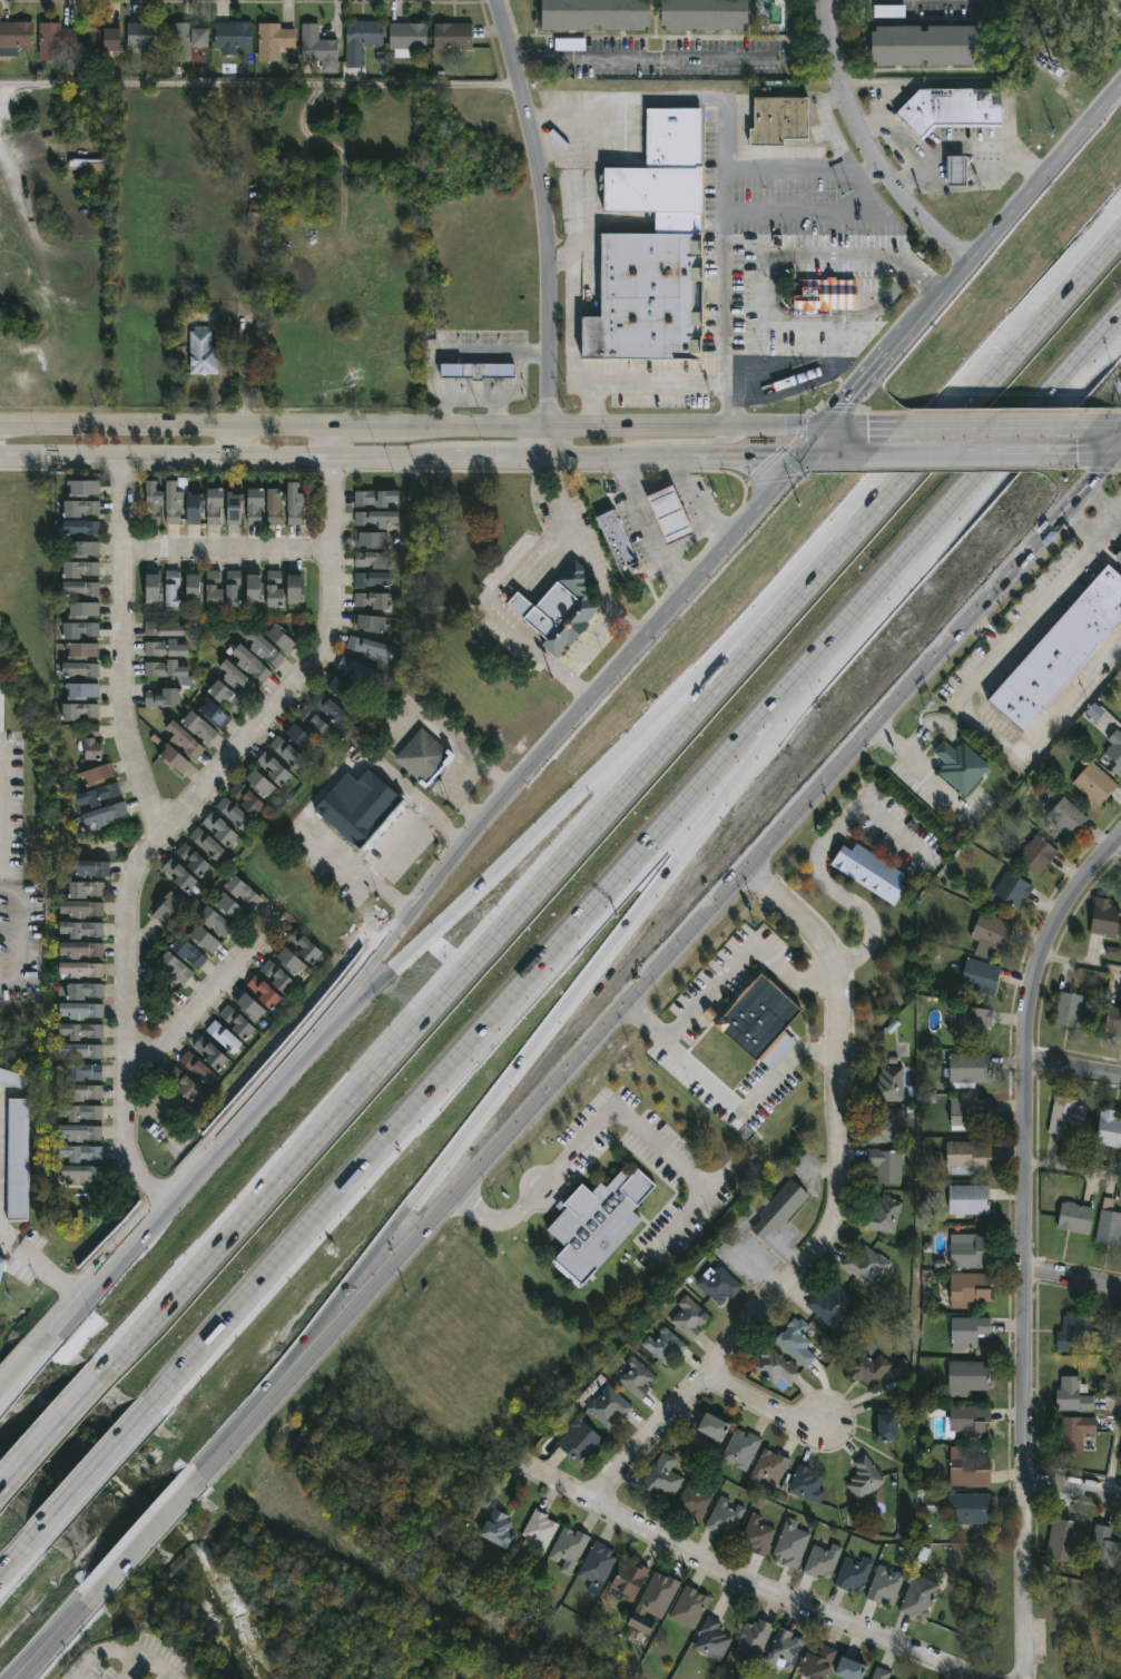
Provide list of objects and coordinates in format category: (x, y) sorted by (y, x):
building: (594, 14)
building: (704, 14)
building: (144, 35)
building: (14, 37)
building: (232, 37)
building: (406, 37)
building: (451, 37)
building: (53, 38)
building: (101, 38)
building: (360, 39)
building: (185, 40)
building: (273, 40)
building: (925, 45)
building: (315, 47)
road: (673, 58)
road: (259, 84)
road: (589, 97)
building: (954, 109)
building: (779, 119)
road: (828, 120)
road: (549, 131)
road: (891, 135)
road: (966, 145)
road: (866, 149)
road: (800, 165)
building: (956, 171)
building: (662, 174)
road: (829, 210)
building: (252, 217)
road: (1006, 224)
road: (545, 225)
road: (798, 254)
road: (559, 257)
road: (1090, 268)
building: (647, 296)
building: (825, 296)
road: (835, 344)
road: (481, 345)
building: (200, 352)
road: (537, 352)
building: (475, 370)
road: (857, 389)
road: (471, 391)
road: (977, 396)
road: (593, 401)
road: (1097, 421)
road: (412, 423)
road: (980, 423)
traffic signals: (824, 424)
road: (855, 424)
road: (233, 440)
road: (809, 441)
road: (679, 443)
road: (1119, 453)
road: (1119, 454)
road: (1085, 455)
traffic signals: (1118, 455)
road: (397, 456)
road: (1010, 456)
traffic signals: (795, 459)
road: (828, 459)
road: (915, 459)
road: (661, 482)
road: (972, 487)
building: (83, 489)
building: (375, 499)
building: (153, 501)
building: (173, 502)
building: (194, 503)
building: (295, 503)
road: (1070, 504)
building: (214, 505)
building: (255, 507)
building: (273, 507)
building: (234, 508)
road: (1100, 508)
building: (80, 509)
road: (700, 511)
building: (669, 514)
gas station: (669, 514)
building: (375, 519)
road: (648, 527)
building: (81, 528)
building: (371, 540)
building: (619, 543)
road: (687, 543)
building: (85, 549)
road: (229, 556)
road: (586, 556)
building: (1118, 556)
building: (373, 560)
road: (549, 564)
building: (80, 570)
building: (372, 579)
building: (153, 587)
building: (171, 587)
building: (193, 587)
building: (222, 587)
building: (294, 587)
building: (81, 588)
building: (253, 588)
building: (274, 588)
building: (373, 601)
road: (1043, 601)
road: (518, 603)
building: (559, 609)
building: (83, 610)
building: (370, 624)
building: (166, 629)
building: (79, 630)
building: (279, 640)
road: (124, 648)
road: (592, 648)
building: (166, 649)
building: (367, 649)
building: (1061, 649)
building: (263, 650)
building: (81, 651)
road: (542, 657)
building: (249, 665)
building: (165, 670)
building: (354, 670)
building: (79, 671)
building: (236, 679)
building: (341, 689)
building: (80, 691)
building: (161, 698)
building: (225, 699)
building: (326, 707)
building: (79, 711)
building: (213, 715)
building: (312, 723)
building: (198, 728)
building: (298, 737)
building: (185, 740)
road: (1020, 740)
building: (91, 743)
road: (551, 748)
building: (1112, 750)
building: (286, 753)
building: (420, 755)
building: (175, 760)
building: (960, 765)
road: (604, 767)
road: (918, 767)
building: (273, 768)
building: (98, 775)
road: (465, 776)
building: (1093, 783)
building: (259, 784)
road: (321, 789)
building: (245, 798)
road: (191, 804)
building: (360, 809)
building: (232, 813)
building: (106, 814)
building: (1064, 816)
building: (218, 829)
building: (206, 843)
road: (1120, 847)
road: (396, 848)
building: (1035, 854)
road: (815, 857)
building: (193, 860)
building: (87, 872)
building: (869, 872)
building: (179, 875)
building: (1011, 888)
building: (86, 892)
building: (237, 900)
building: (166, 909)
building: (81, 912)
building: (1103, 916)
building: (215, 922)
building: (991, 931)
building: (80, 932)
building: (203, 937)
road: (496, 939)
building: (303, 946)
building: (80, 953)
building: (187, 953)
building: (289, 962)
road: (1080, 963)
building: (173, 970)
building: (80, 972)
road: (720, 972)
building: (979, 975)
building: (275, 976)
building: (1088, 980)
road: (577, 991)
building: (263, 992)
building: (85, 994)
road: (201, 1008)
building: (249, 1008)
building: (1068, 1009)
building: (80, 1013)
road: (618, 1013)
building: (757, 1017)
building: (974, 1020)
building: (1113, 1020)
building: (236, 1023)
building: (81, 1031)
road: (486, 1034)
building: (223, 1038)
building: (80, 1051)
building: (208, 1054)
building: (968, 1067)
building: (196, 1069)
building: (82, 1072)
road: (1075, 1072)
building: (11, 1078)
building: (888, 1083)
building: (181, 1084)
building: (81, 1092)
building: (967, 1109)
road: (743, 1111)
building: (81, 1112)
building: (1065, 1113)
building: (886, 1126)
building: (1109, 1129)
building: (80, 1133)
road: (580, 1143)
building: (81, 1153)
building: (967, 1155)
building: (17, 1160)
building: (885, 1165)
road: (1075, 1170)
building: (80, 1174)
road: (176, 1185)
road: (1030, 1196)
building: (967, 1198)
building: (777, 1209)
building: (881, 1212)
building: (1074, 1216)
road: (835, 1217)
building: (596, 1223)
building: (1109, 1224)
building: (967, 1249)
building: (865, 1263)
road: (43, 1266)
building: (1, 1267)
building: (718, 1284)
road: (1075, 1284)
building: (970, 1288)
building: (832, 1305)
building: (687, 1317)
building: (1120, 1329)
building: (967, 1332)
building: (1073, 1333)
building: (795, 1342)
building: (663, 1345)
road: (26, 1363)
building: (774, 1368)
building: (873, 1369)
road: (26, 1371)
building: (635, 1376)
building: (966, 1376)
building: (1071, 1395)
building: (608, 1407)
road: (763, 1411)
building: (967, 1421)
building: (711, 1426)
building: (886, 1427)
building: (1076, 1431)
road: (49, 1440)
building: (579, 1441)
building: (740, 1449)
road: (1112, 1462)
building: (770, 1469)
building: (970, 1471)
road: (95, 1474)
building: (661, 1476)
building: (863, 1476)
building: (807, 1483)
road: (1074, 1493)
building: (692, 1501)
building: (968, 1508)
building: (725, 1516)
building: (496, 1526)
building: (538, 1531)
road: (163, 1532)
building: (756, 1533)
building: (1062, 1540)
building: (789, 1543)
building: (1103, 1547)
building: (567, 1548)
road: (19, 1552)
building: (822, 1560)
building: (597, 1563)
building: (853, 1572)
building: (629, 1578)
road: (740, 1580)
building: (885, 1584)
building: (656, 1595)
building: (917, 1597)
building: (689, 1607)
park: (180, 1616)
road: (80, 1621)
road: (1026, 1628)
park: (1080, 1632)
building: (712, 1638)
building: (753, 1640)
road: (132, 1644)
building: (784, 1649)
building: (816, 1662)
road: (132, 1663)
road: (38, 1666)
road: (39, 1666)
building: (849, 1669)
building: (881, 1673)

